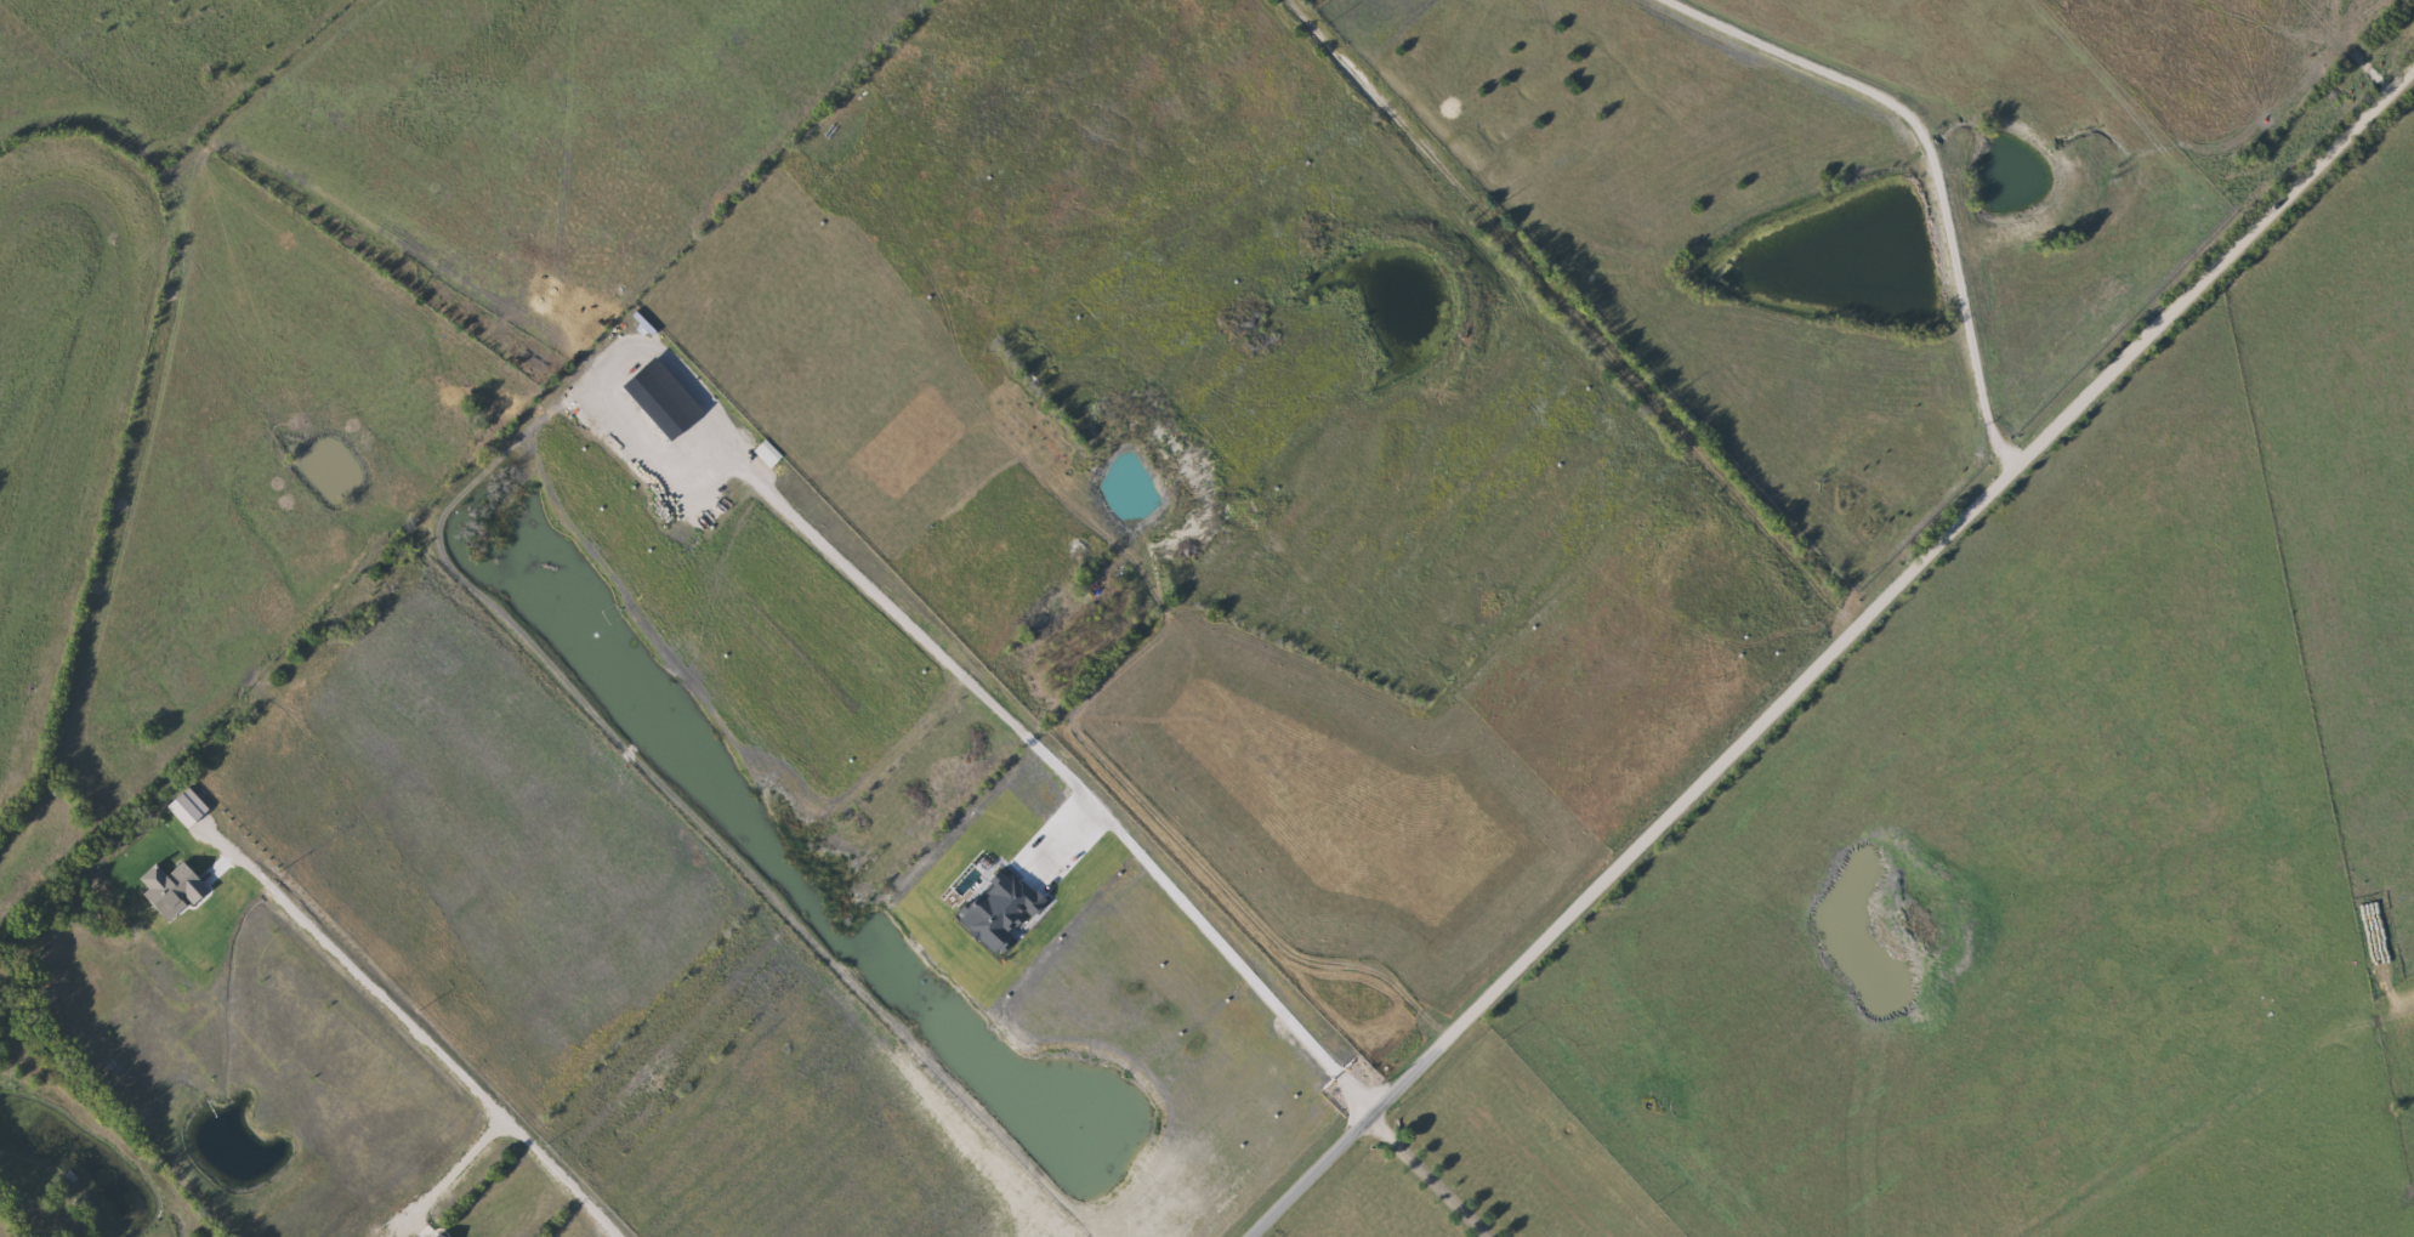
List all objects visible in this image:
road: (1921, 163)
road: (1828, 648)
road: (1242, 968)
road: (377, 972)
road: (530, 1123)
road: (1428, 1174)

